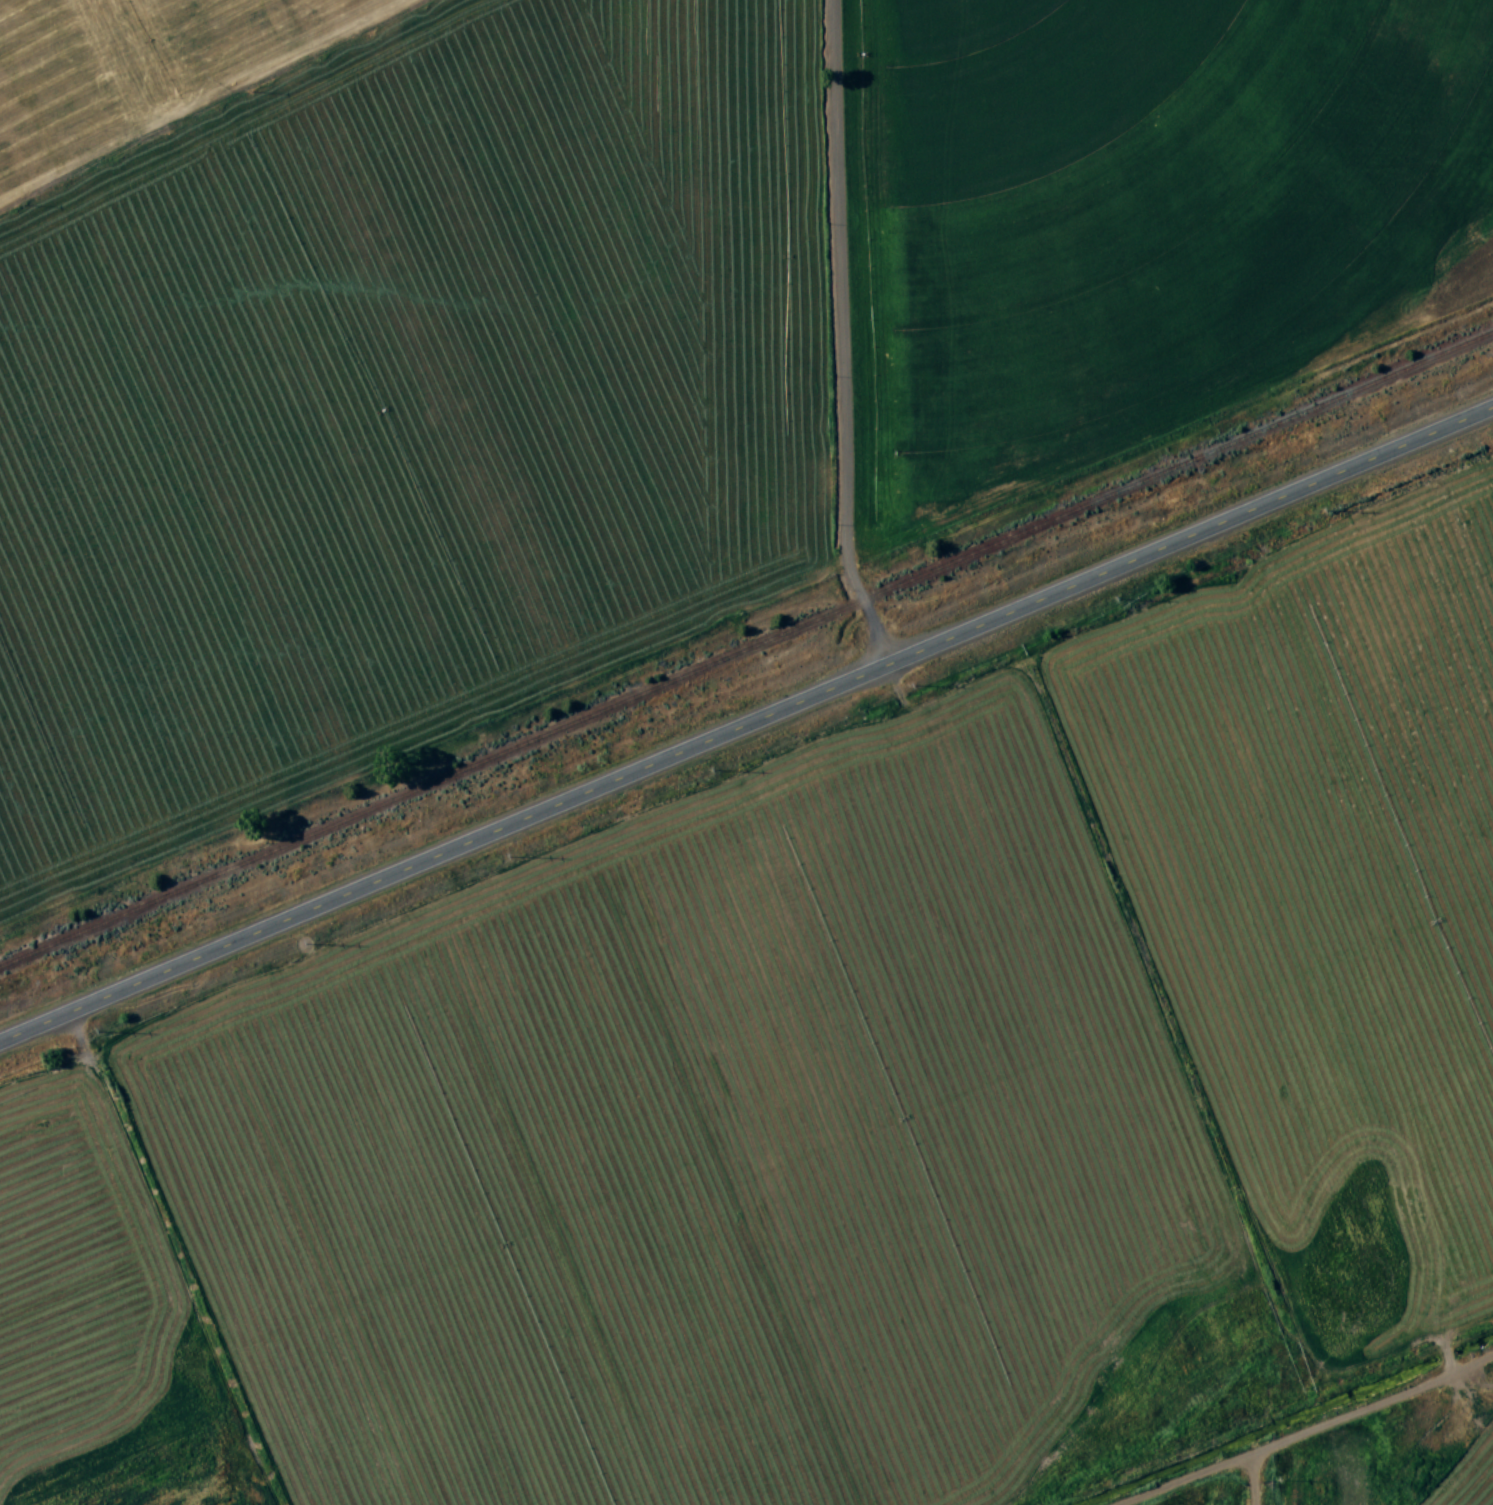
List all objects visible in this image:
road: (835, 340)
railway: (746, 653)
road: (747, 731)

